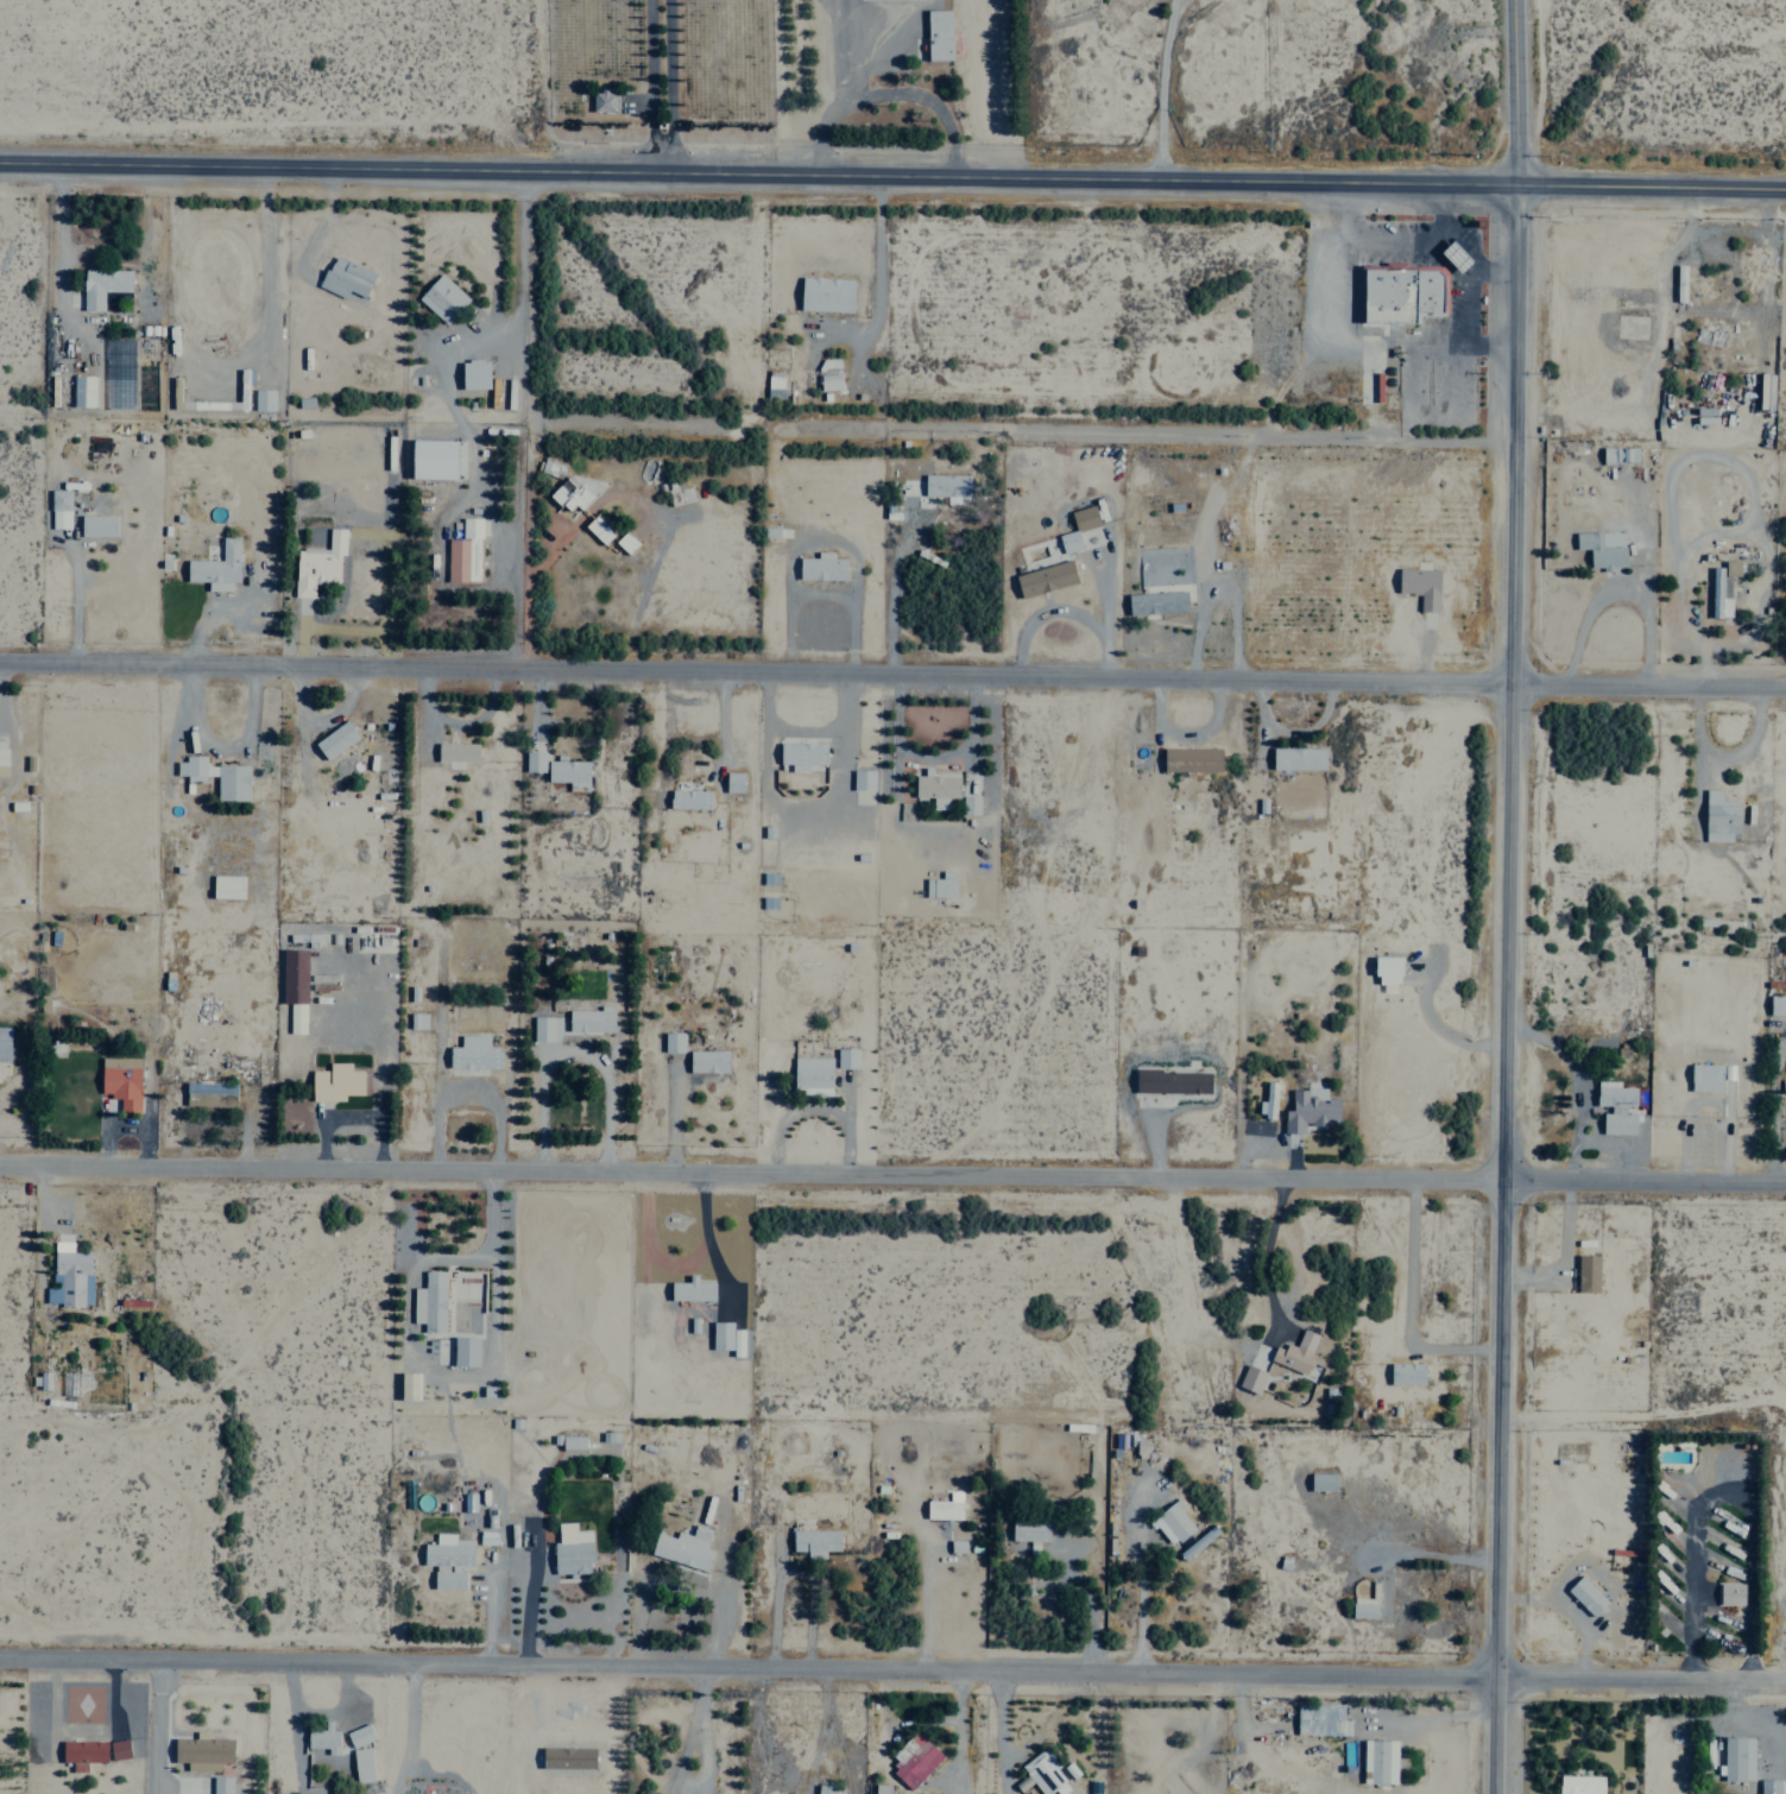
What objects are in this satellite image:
building: (938, 34)
park: (240, 69)
road: (522, 86)
road: (655, 87)
road: (673, 87)
building: (602, 101)
road: (892, 176)
building: (1457, 255)
building: (346, 278)
building: (102, 286)
building: (1400, 291)
building: (825, 295)
building: (441, 298)
building: (828, 365)
building: (474, 374)
building: (829, 381)
building: (244, 385)
building: (774, 385)
building: (81, 391)
building: (1765, 391)
building: (263, 399)
road: (523, 418)
building: (1618, 454)
building: (433, 459)
building: (550, 467)
building: (946, 486)
building: (569, 494)
building: (680, 494)
building: (58, 508)
building: (1084, 518)
building: (96, 525)
building: (599, 530)
building: (626, 542)
building: (1068, 542)
building: (1602, 549)
building: (465, 552)
building: (317, 564)
building: (821, 567)
building: (216, 568)
building: (1045, 579)
building: (1420, 586)
building: (1722, 588)
building: (1156, 604)
road: (892, 671)
building: (335, 740)
building: (456, 752)
building: (801, 756)
building: (1298, 758)
building: (1191, 759)
building: (2, 762)
building: (534, 762)
building: (568, 773)
building: (231, 779)
building: (863, 779)
building: (732, 782)
building: (936, 789)
building: (688, 798)
building: (968, 804)
building: (1719, 817)
building: (940, 885)
building: (227, 887)
road: (1502, 896)
building: (1387, 966)
building: (294, 987)
building: (1776, 1005)
building: (591, 1019)
building: (417, 1022)
building: (545, 1029)
building: (4, 1043)
building: (673, 1043)
building: (473, 1054)
building: (846, 1059)
building: (707, 1062)
building: (812, 1075)
building: (1705, 1078)
building: (120, 1081)
building: (335, 1082)
building: (1172, 1082)
building: (209, 1088)
building: (1269, 1100)
building: (1615, 1108)
building: (1309, 1111)
road: (892, 1173)
building: (1588, 1272)
building: (69, 1276)
building: (690, 1289)
building: (429, 1301)
building: (726, 1337)
building: (465, 1350)
building: (1295, 1351)
building: (1407, 1372)
building: (1251, 1378)
building: (1321, 1480)
building: (468, 1502)
building: (944, 1508)
building: (1172, 1522)
building: (1028, 1529)
building: (815, 1541)
building: (683, 1547)
building: (570, 1549)
building: (448, 1560)
building: (1729, 1593)
building: (1585, 1594)
building: (1365, 1604)
road: (892, 1667)
building: (1320, 1719)
building: (359, 1735)
building: (323, 1738)
building: (118, 1749)
building: (202, 1751)
building: (82, 1752)
building: (1737, 1758)
building: (914, 1760)
building: (1375, 1760)
building: (361, 1764)
building: (1045, 1774)
building: (221, 1784)
building: (1579, 1784)
building: (1772, 1786)
building: (881, 1788)
building: (825, 1789)
building: (924, 1793)

